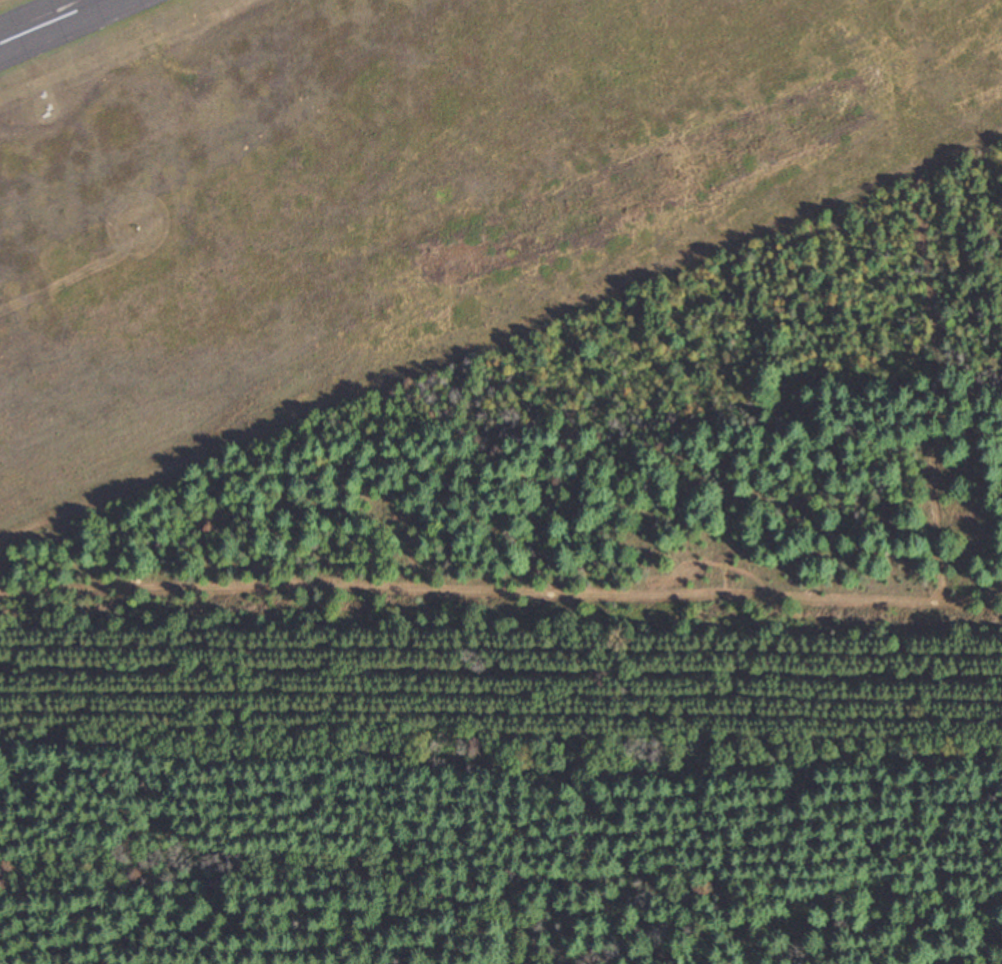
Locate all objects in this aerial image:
airport runway: (50, 21)
airport: (394, 184)

